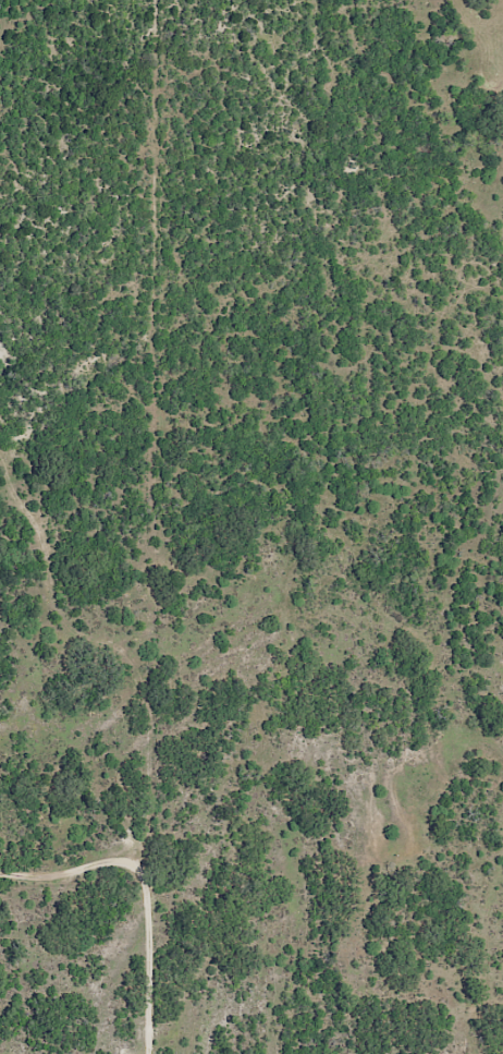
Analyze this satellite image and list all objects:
road: (147, 888)

